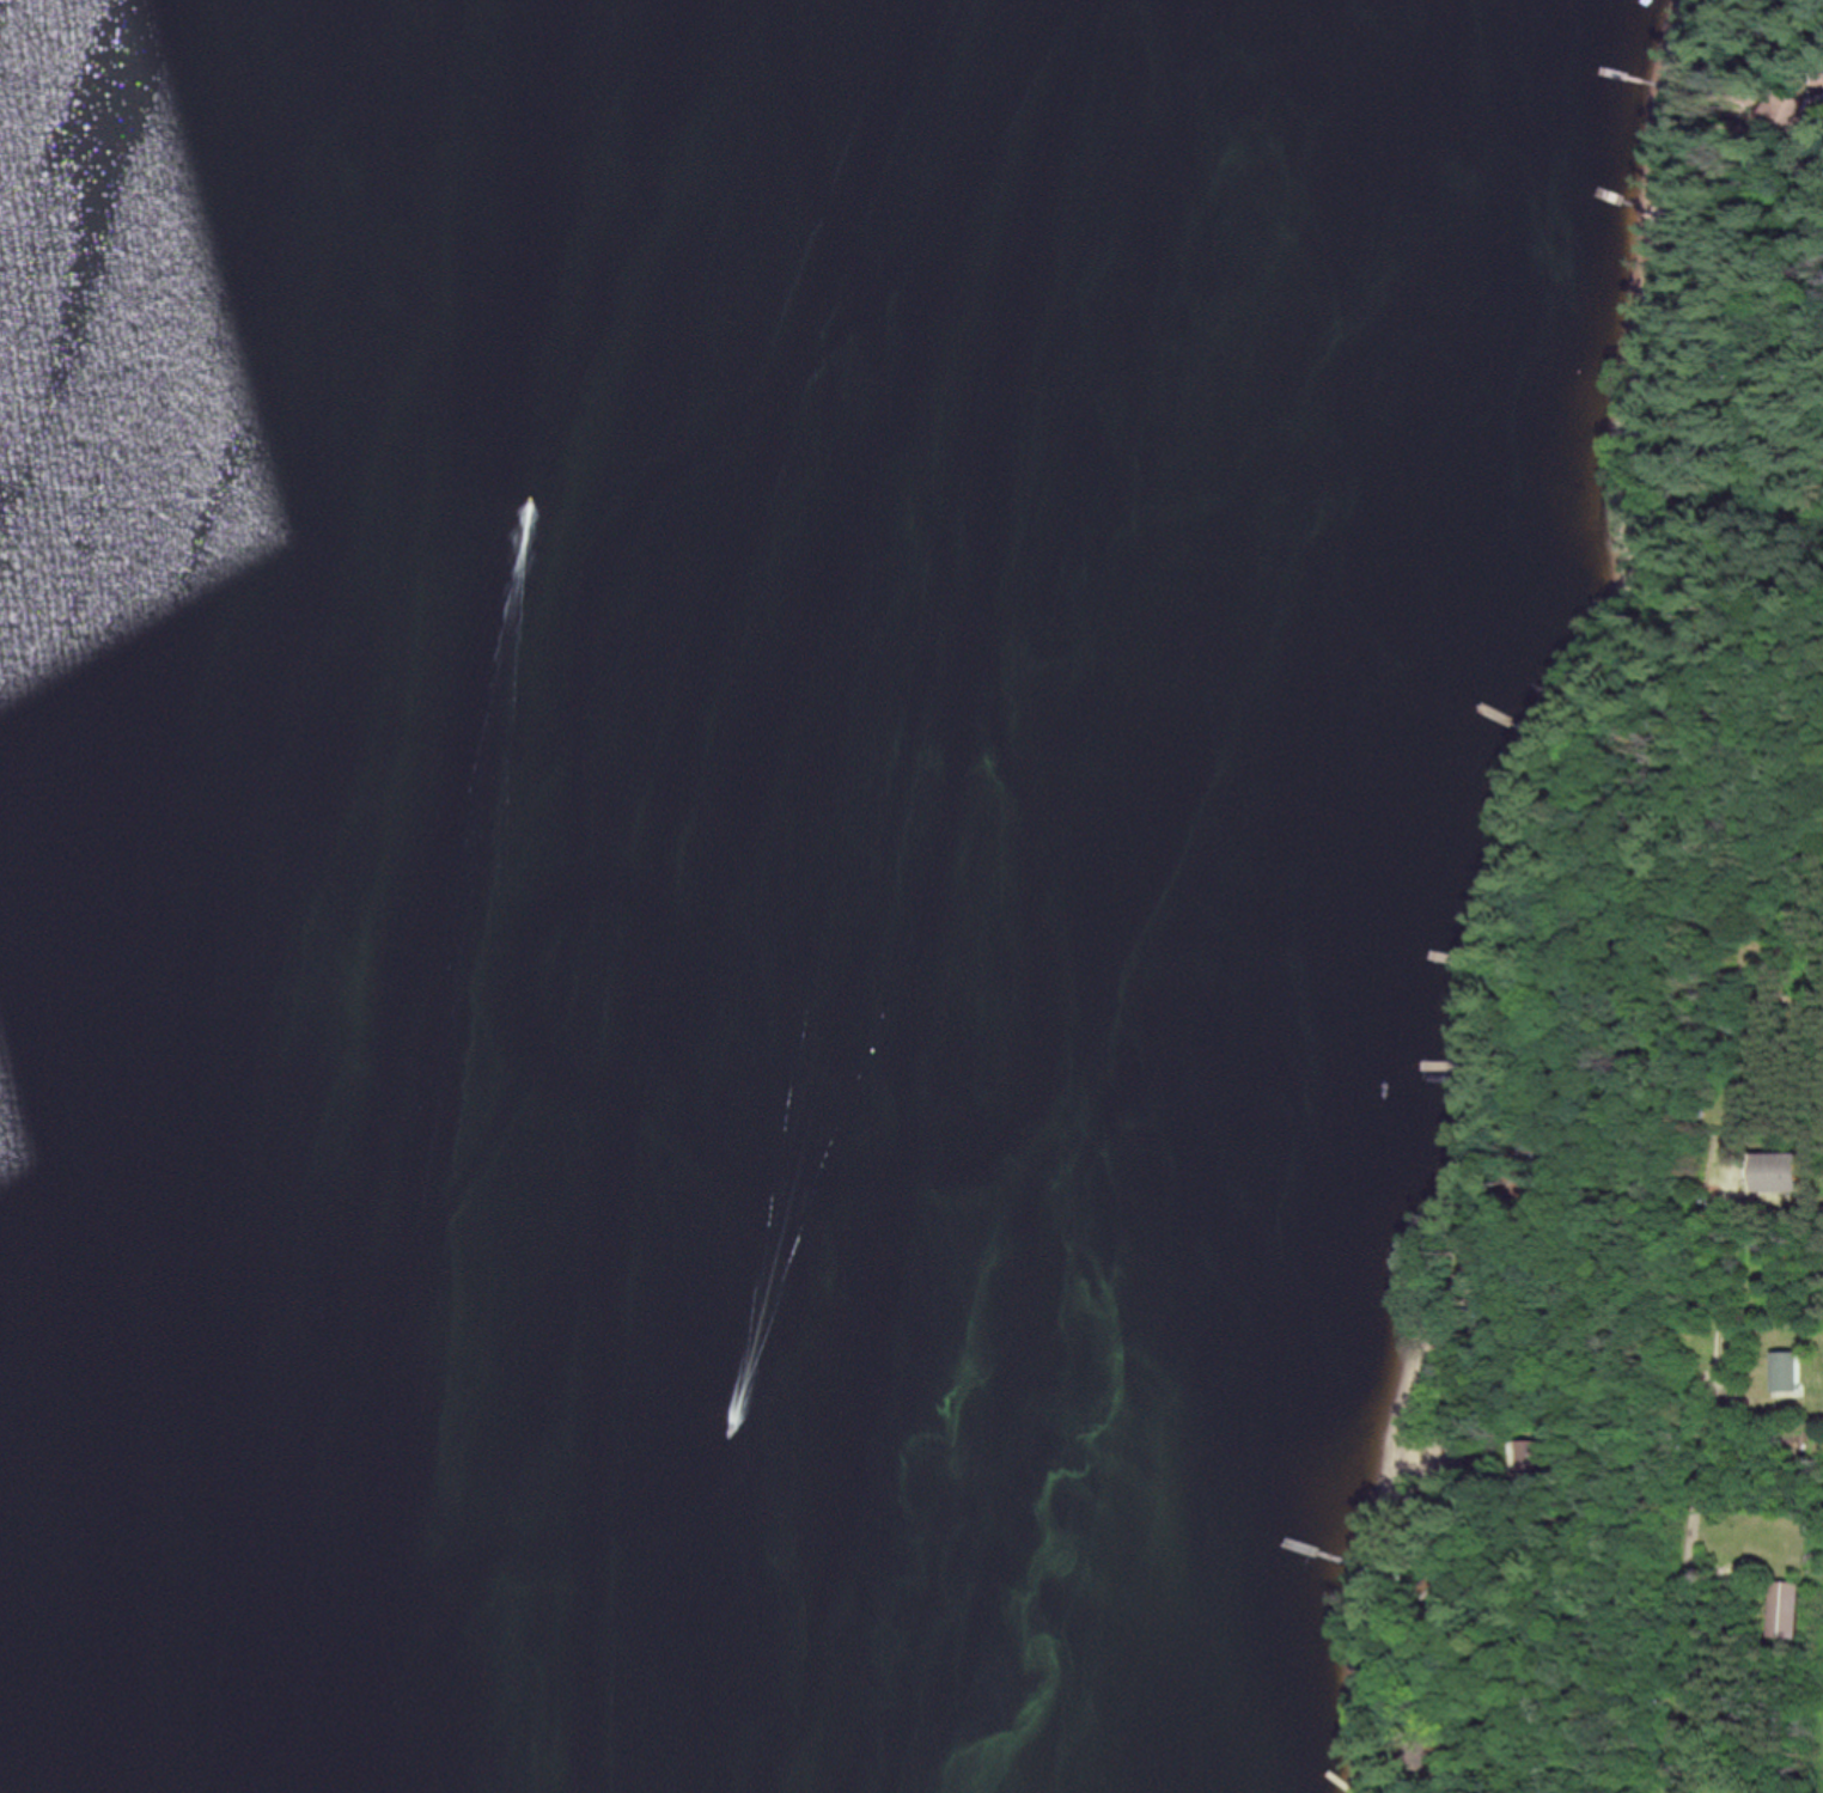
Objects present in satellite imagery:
river: (745, 896)
building: (1781, 1172)
building: (1790, 1372)
building: (1534, 1456)
building: (1787, 1610)
crop: (1819, 1751)

